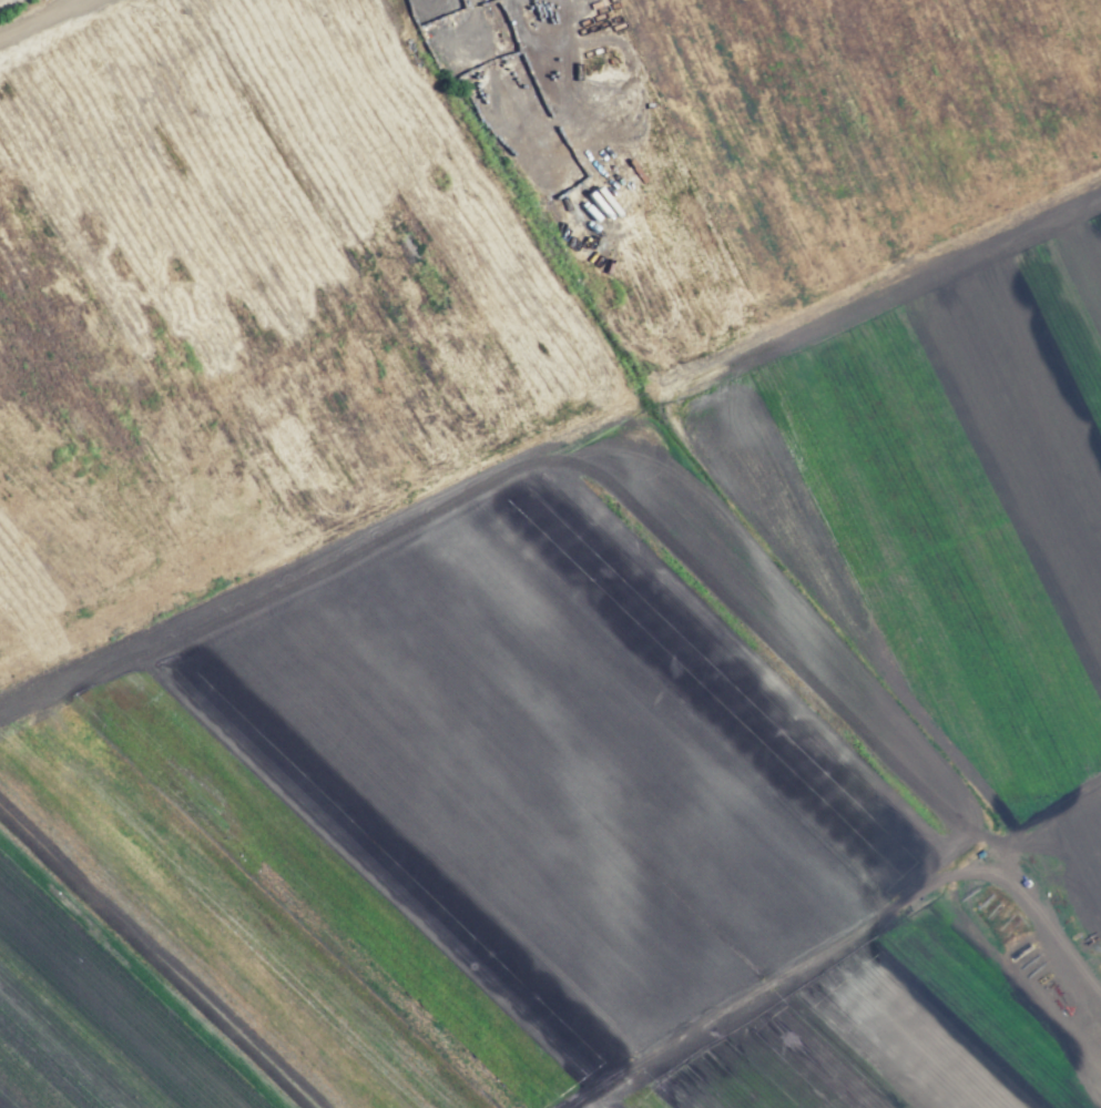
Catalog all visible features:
crop: (1094, 13)
crop: (436, 236)
crop: (620, 748)

